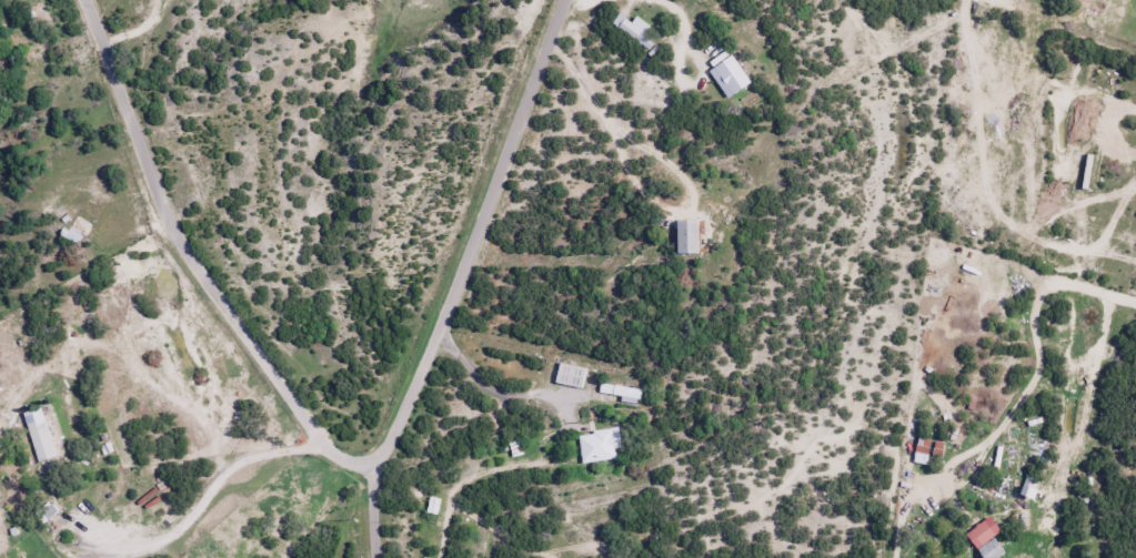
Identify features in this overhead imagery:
building: (727, 77)
road: (482, 234)
building: (685, 235)
road: (198, 258)
building: (569, 374)
building: (39, 435)
building: (597, 445)
building: (927, 447)
building: (1026, 485)
road: (198, 505)
road: (380, 509)
building: (981, 531)

